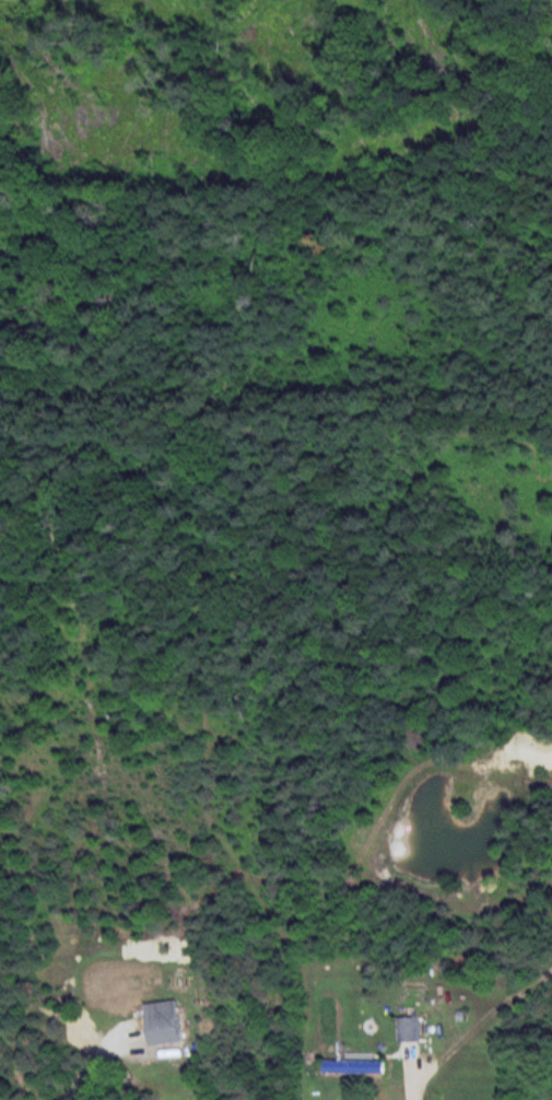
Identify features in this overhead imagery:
building: (171, 1030)
building: (412, 1031)
road: (92, 1060)
building: (359, 1068)
road: (415, 1083)

